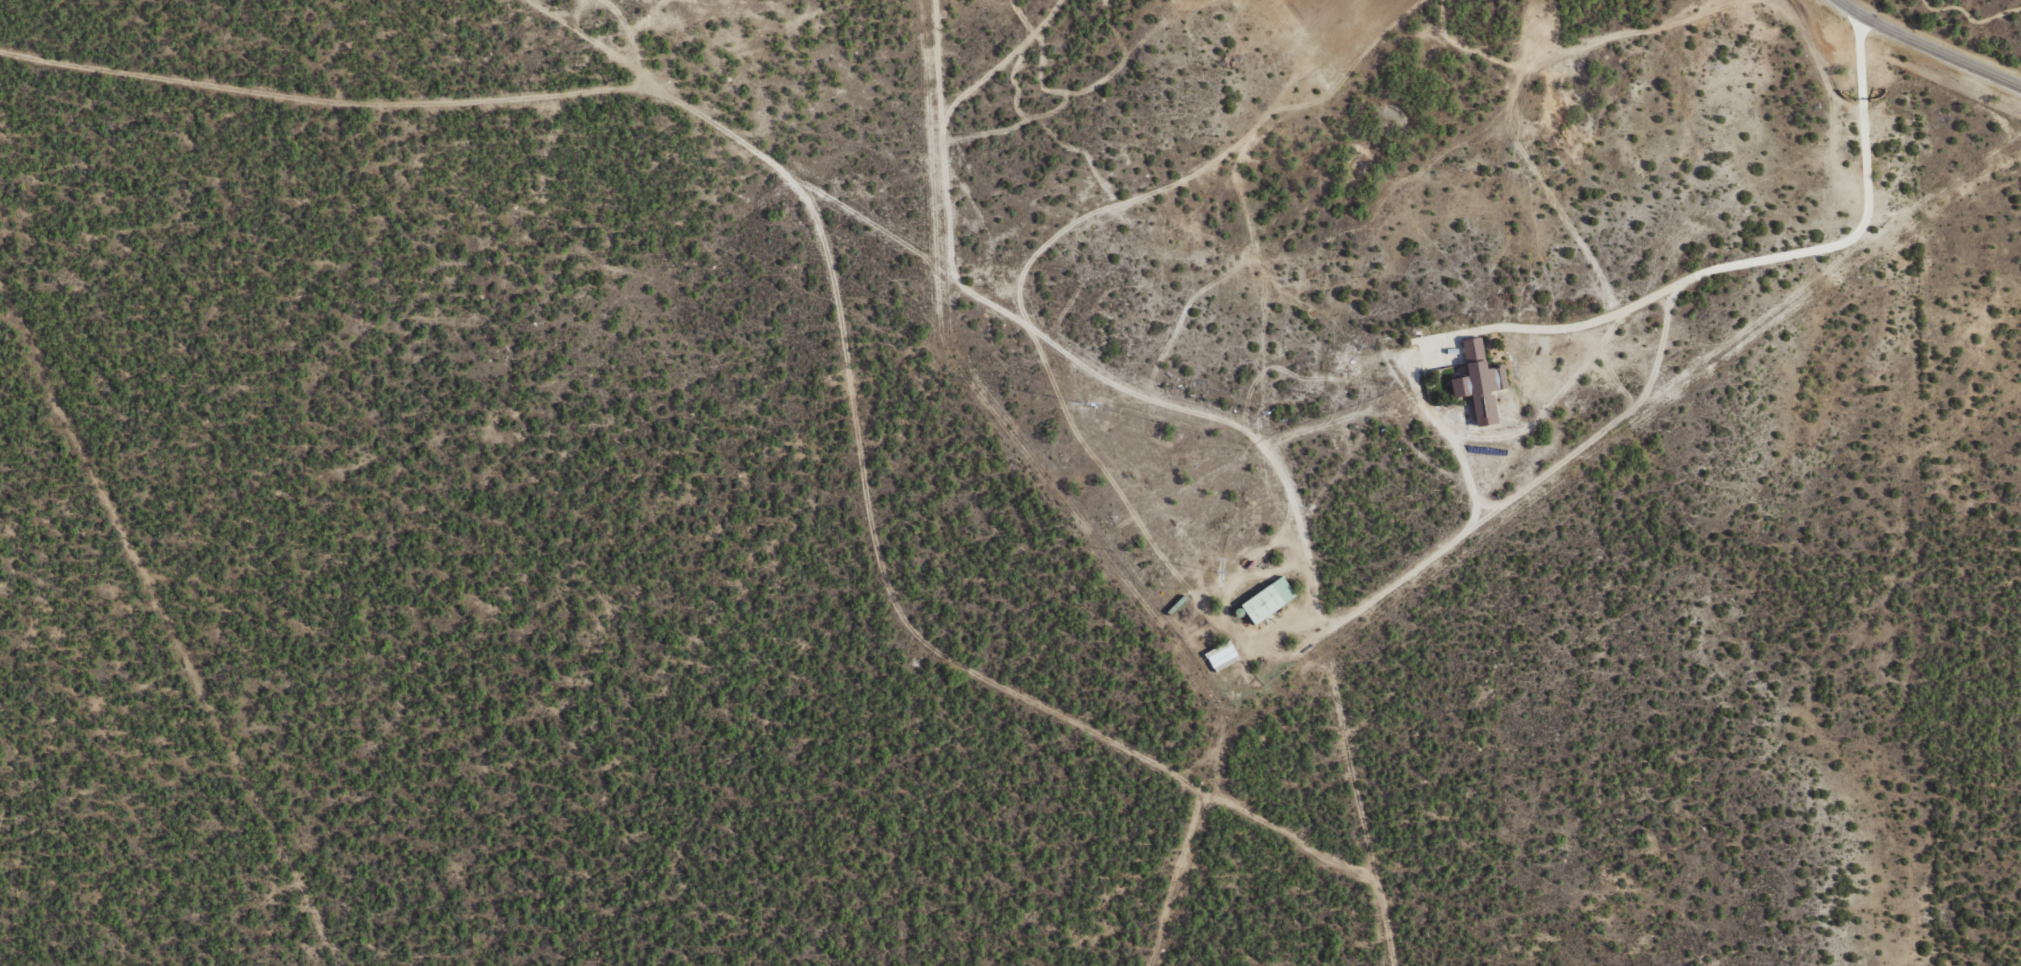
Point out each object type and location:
road: (1927, 46)
road: (903, 248)
building: (1477, 382)
building: (1265, 600)
road: (173, 631)
building: (1221, 657)

